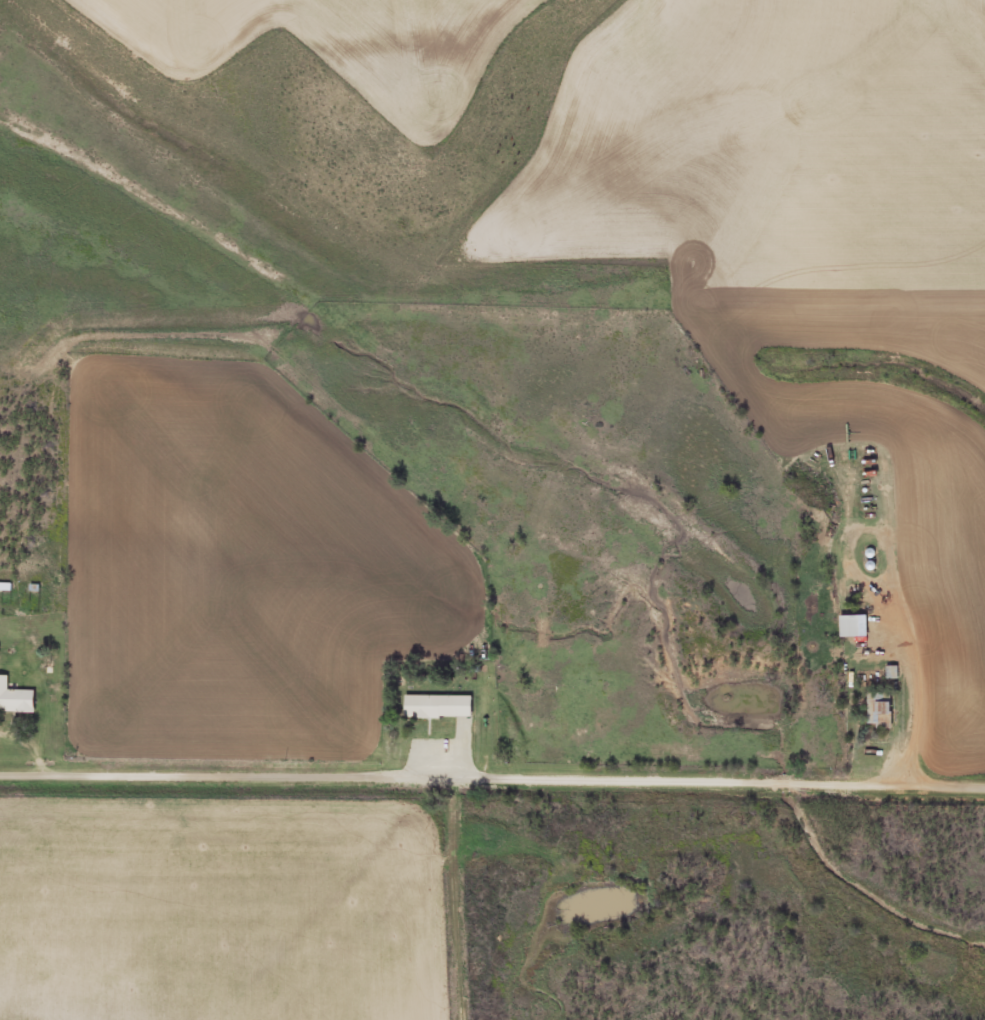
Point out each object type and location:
building: (852, 627)
building: (14, 701)
building: (436, 708)
building: (878, 710)
road: (492, 777)

